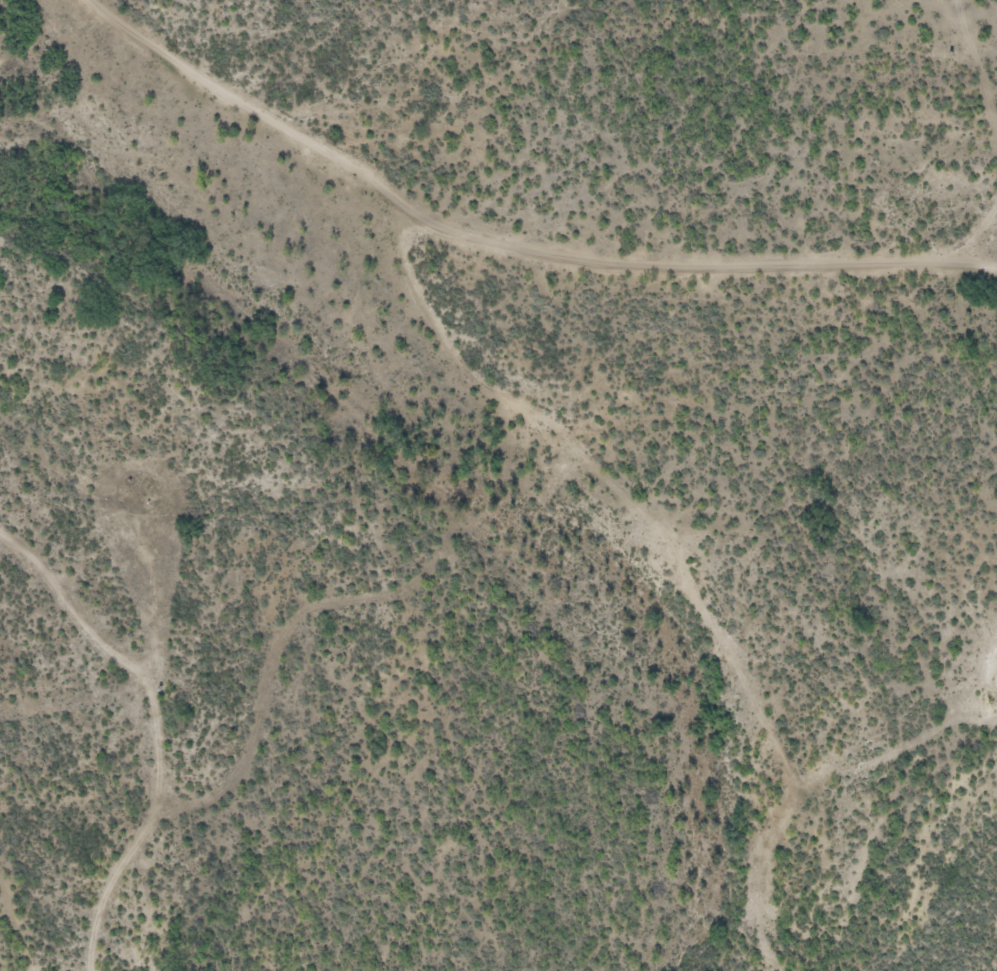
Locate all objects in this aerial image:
road: (509, 245)
road: (146, 514)

